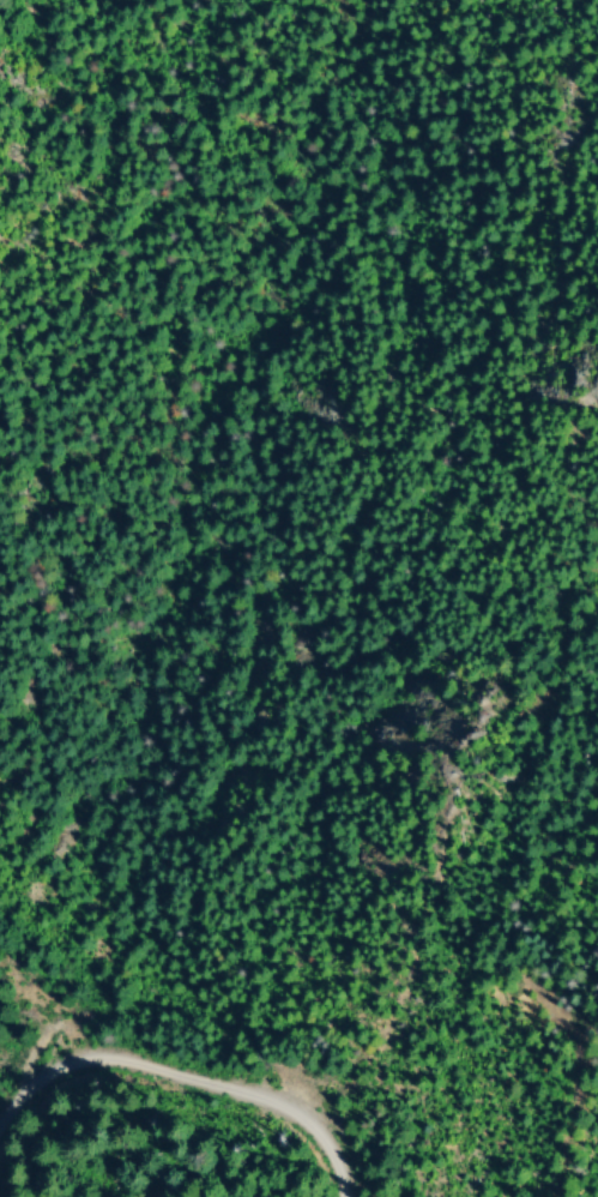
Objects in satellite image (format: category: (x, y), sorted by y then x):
road: (566, 1083)
road: (179, 1084)

